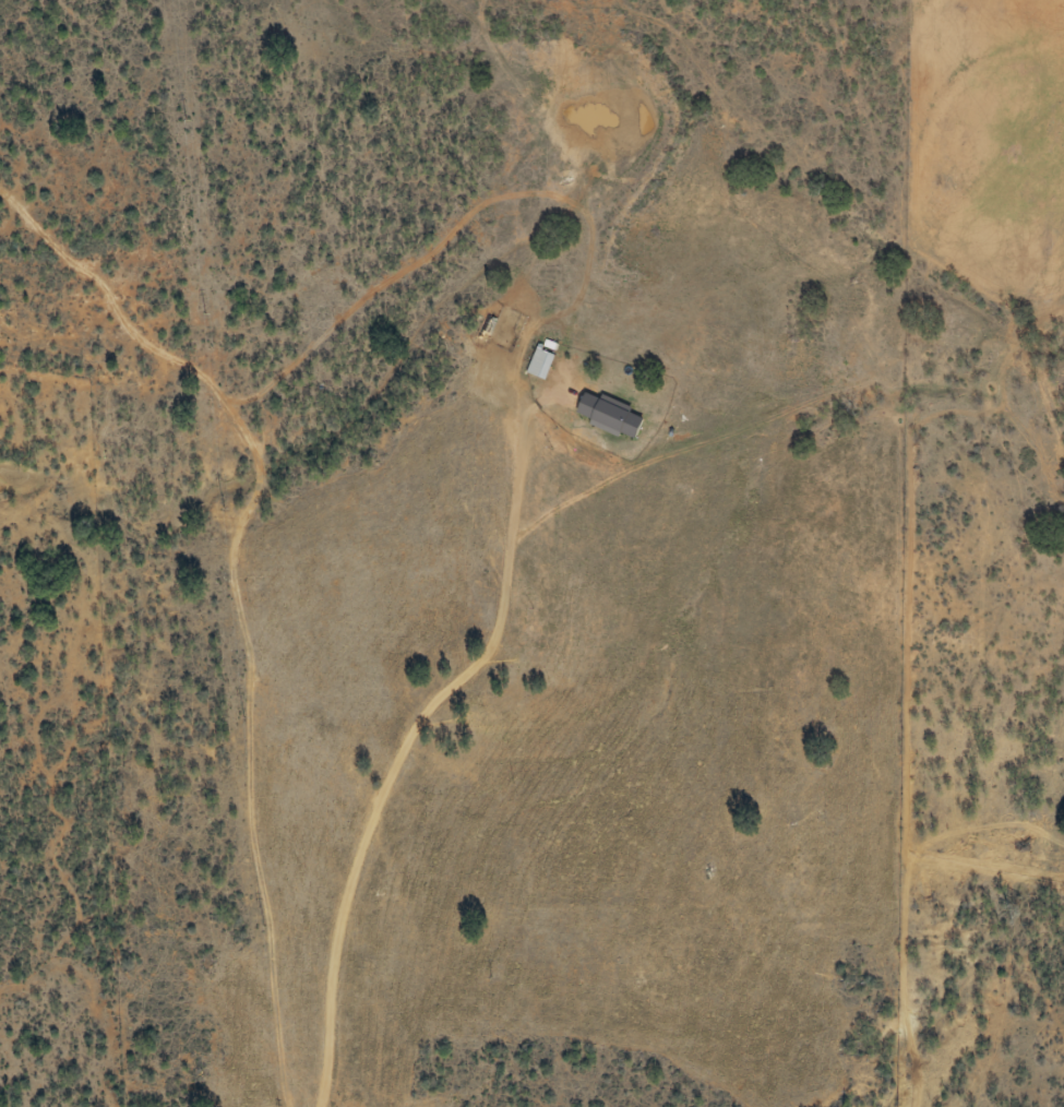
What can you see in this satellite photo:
building: (541, 365)
building: (617, 402)

